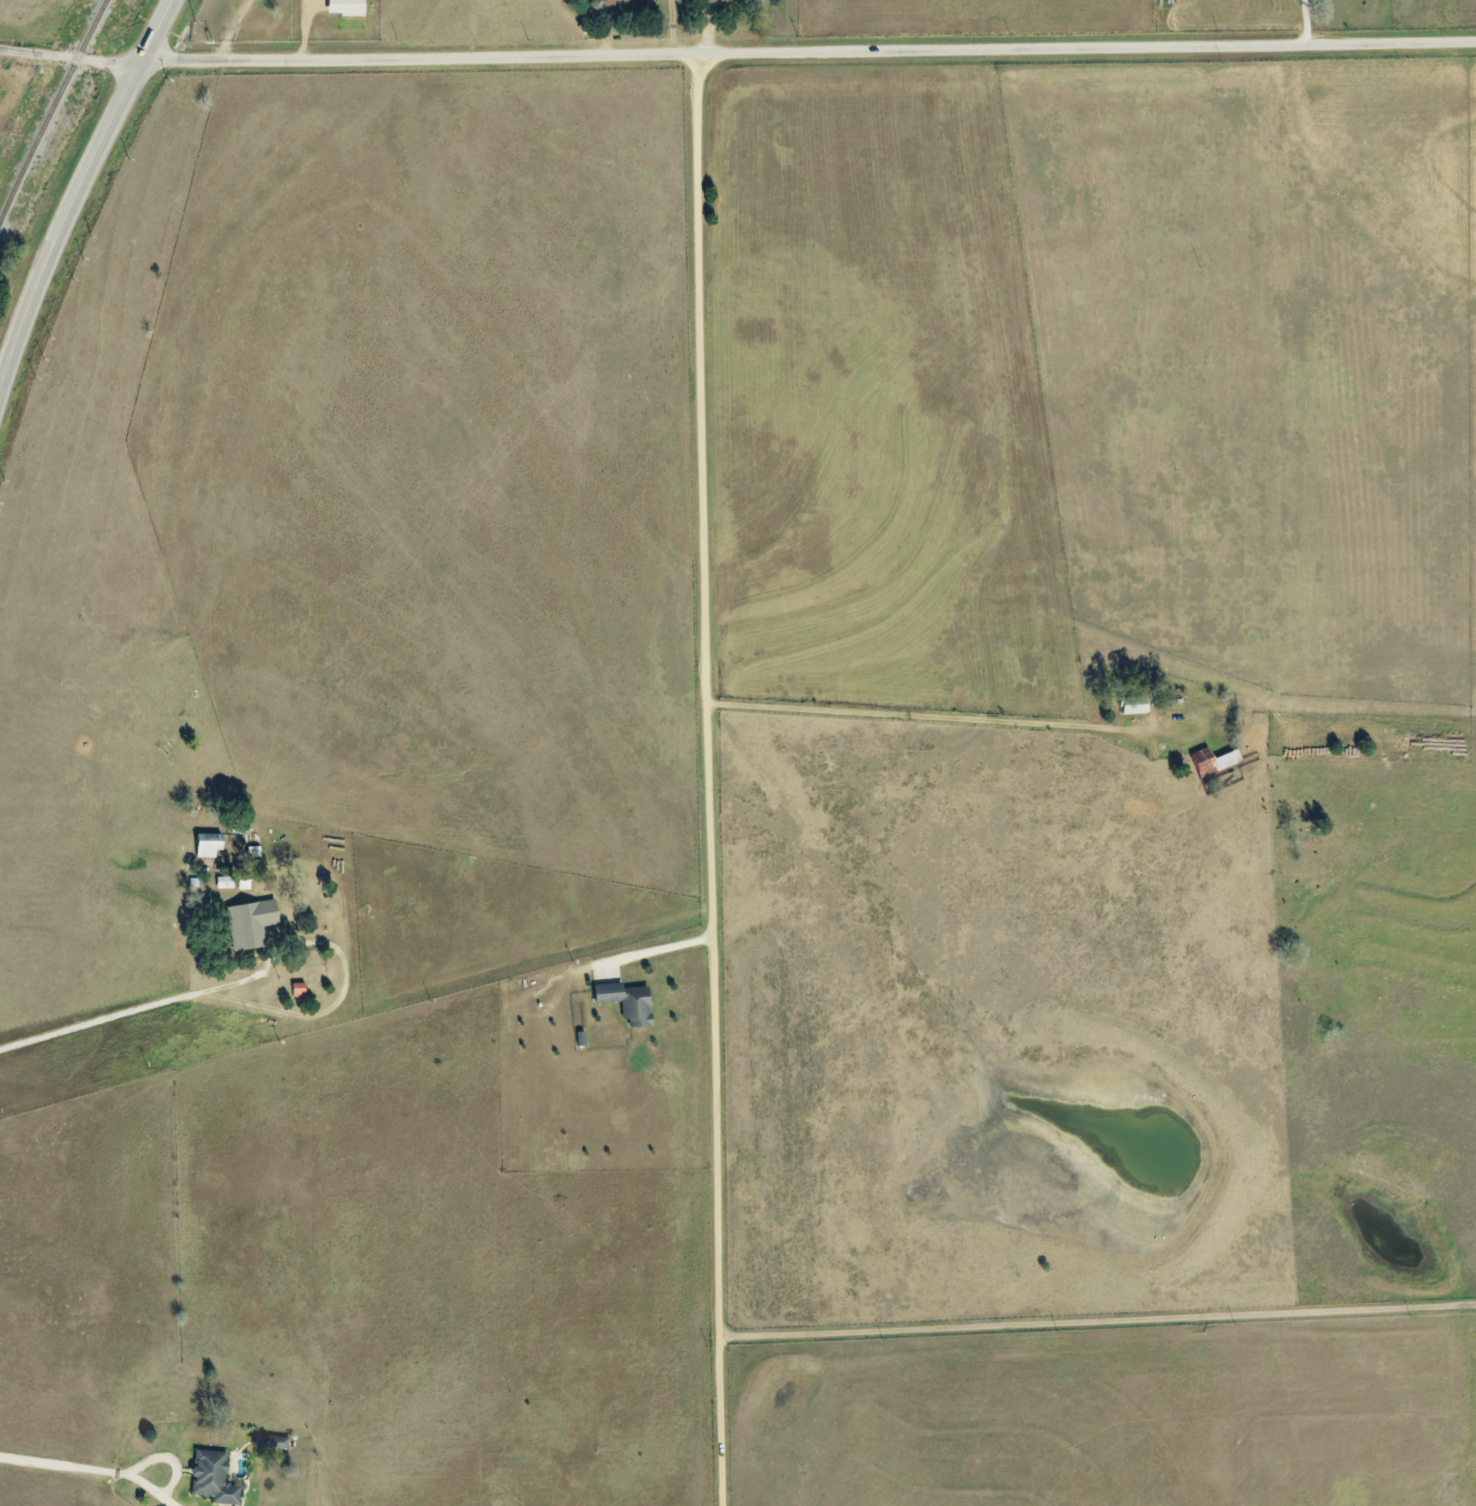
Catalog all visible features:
building: (622, 1)
building: (720, 1)
building: (342, 7)
road: (1305, 21)
road: (809, 48)
road: (71, 58)
railway: (51, 108)
road: (71, 203)
building: (1130, 705)
road: (911, 719)
building: (1225, 759)
building: (1200, 762)
road: (711, 778)
building: (205, 845)
building: (247, 923)
building: (296, 990)
road: (89, 1001)
building: (623, 1002)
road: (1098, 1316)
building: (273, 1442)
building: (211, 1478)

